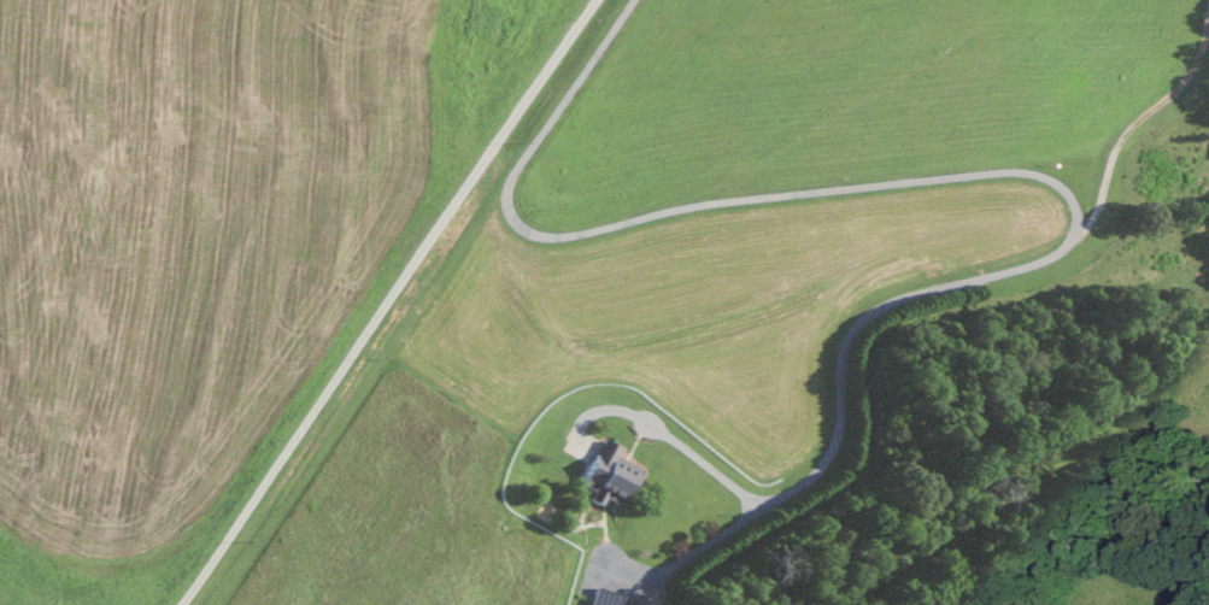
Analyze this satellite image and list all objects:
road: (1137, 117)
road: (1022, 170)
road: (385, 301)
road: (583, 437)
road: (635, 440)
building: (608, 471)
road: (583, 498)
road: (605, 517)
road: (699, 547)
building: (610, 598)

